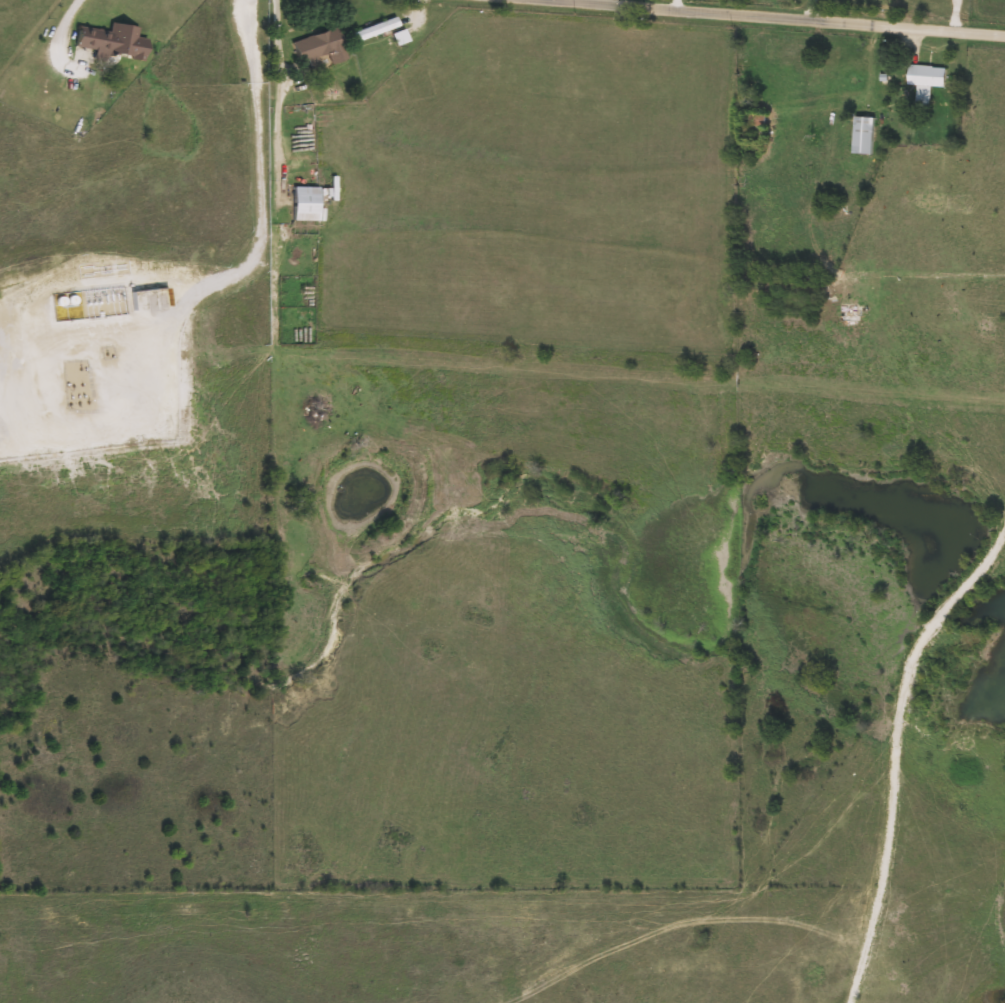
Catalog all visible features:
road: (760, 18)
road: (60, 24)
building: (373, 30)
building: (398, 38)
building: (110, 42)
building: (318, 48)
building: (926, 82)
road: (866, 101)
building: (758, 121)
building: (864, 136)
road: (272, 162)
building: (304, 205)
road: (251, 240)
building: (806, 287)
road: (895, 749)

